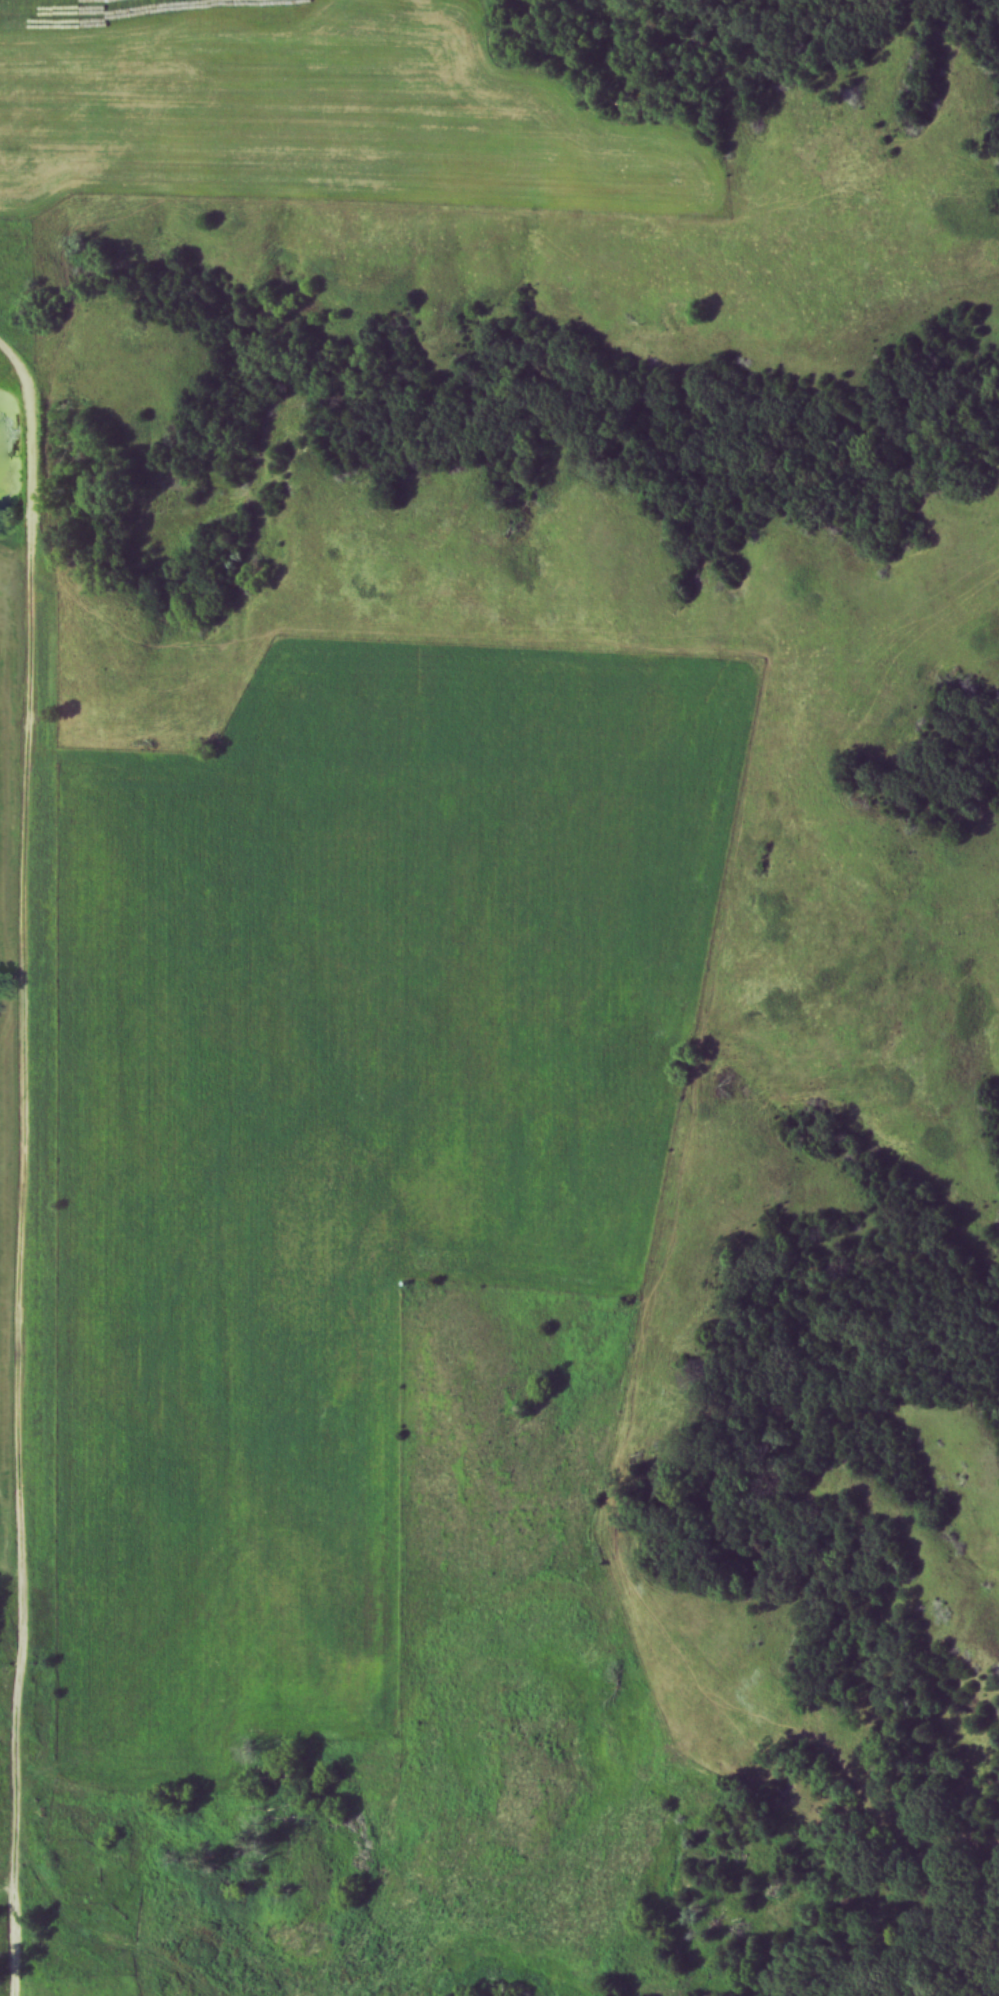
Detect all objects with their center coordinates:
road: (12, 1944)

